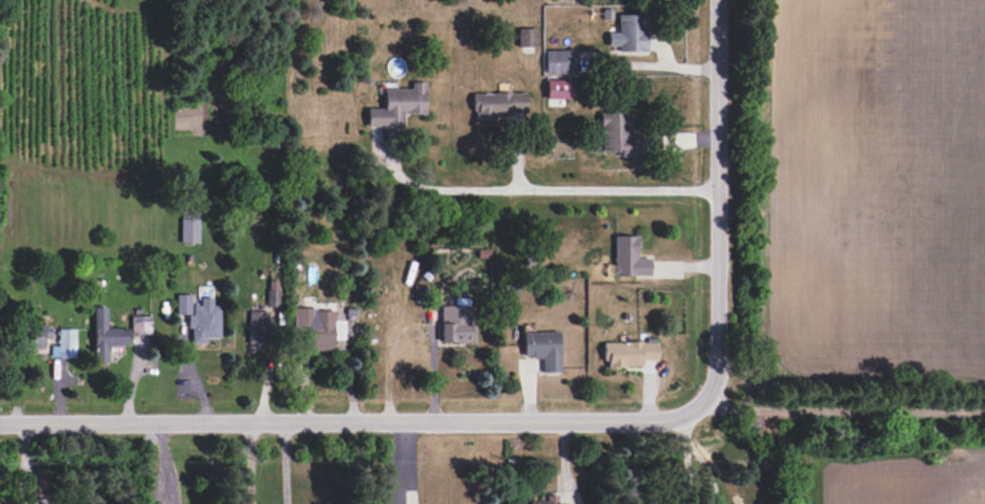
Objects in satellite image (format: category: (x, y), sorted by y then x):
building: (628, 33)
building: (526, 37)
building: (559, 61)
building: (560, 88)
building: (497, 104)
building: (397, 105)
building: (618, 133)
road: (532, 187)
road: (716, 205)
building: (189, 226)
building: (628, 257)
building: (183, 303)
building: (203, 320)
building: (455, 323)
building: (140, 324)
building: (315, 327)
building: (257, 328)
building: (105, 335)
building: (36, 336)
building: (64, 343)
building: (543, 348)
building: (628, 353)
road: (844, 410)
road: (352, 420)
road: (682, 460)
road: (166, 462)
road: (249, 462)
road: (283, 462)
road: (401, 462)
building: (545, 500)

